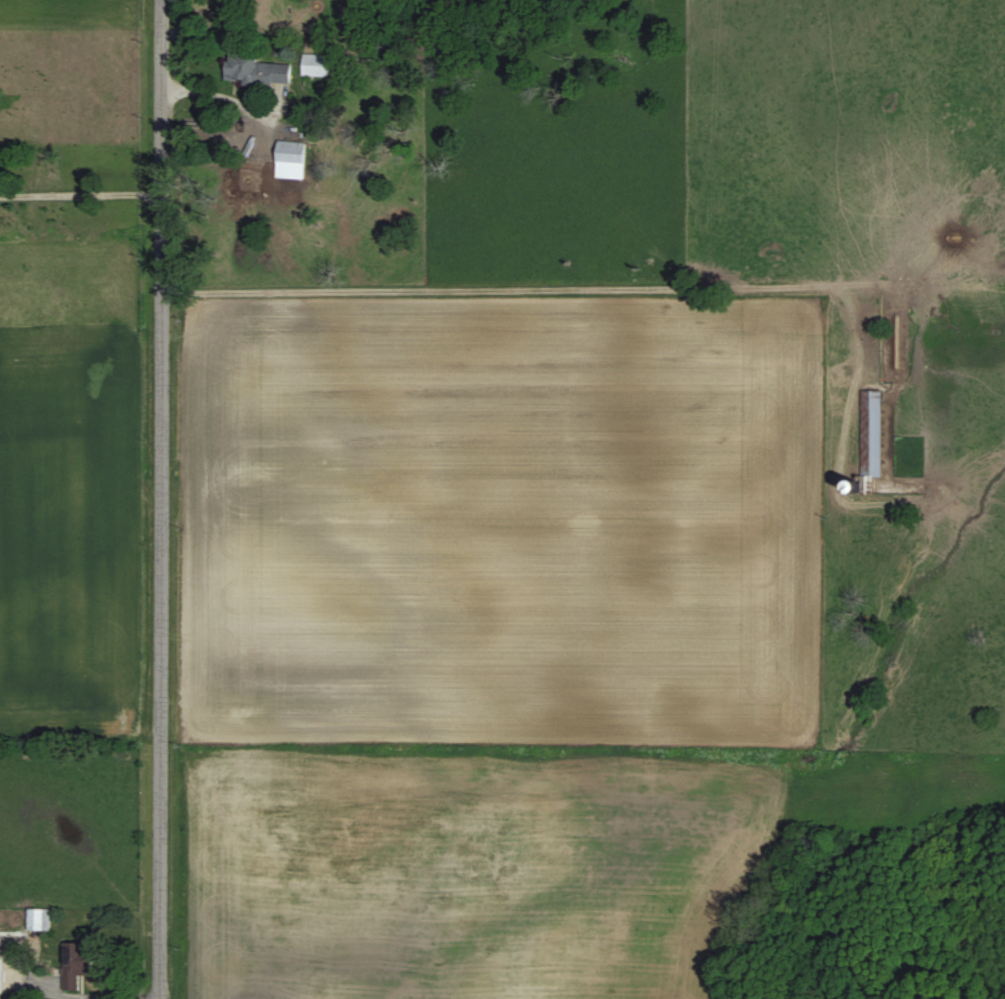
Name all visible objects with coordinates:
building: (314, 64)
building: (254, 70)
building: (286, 153)
road: (79, 187)
road: (422, 289)
building: (867, 432)
road: (157, 499)
building: (34, 919)
building: (11, 944)
building: (72, 962)

